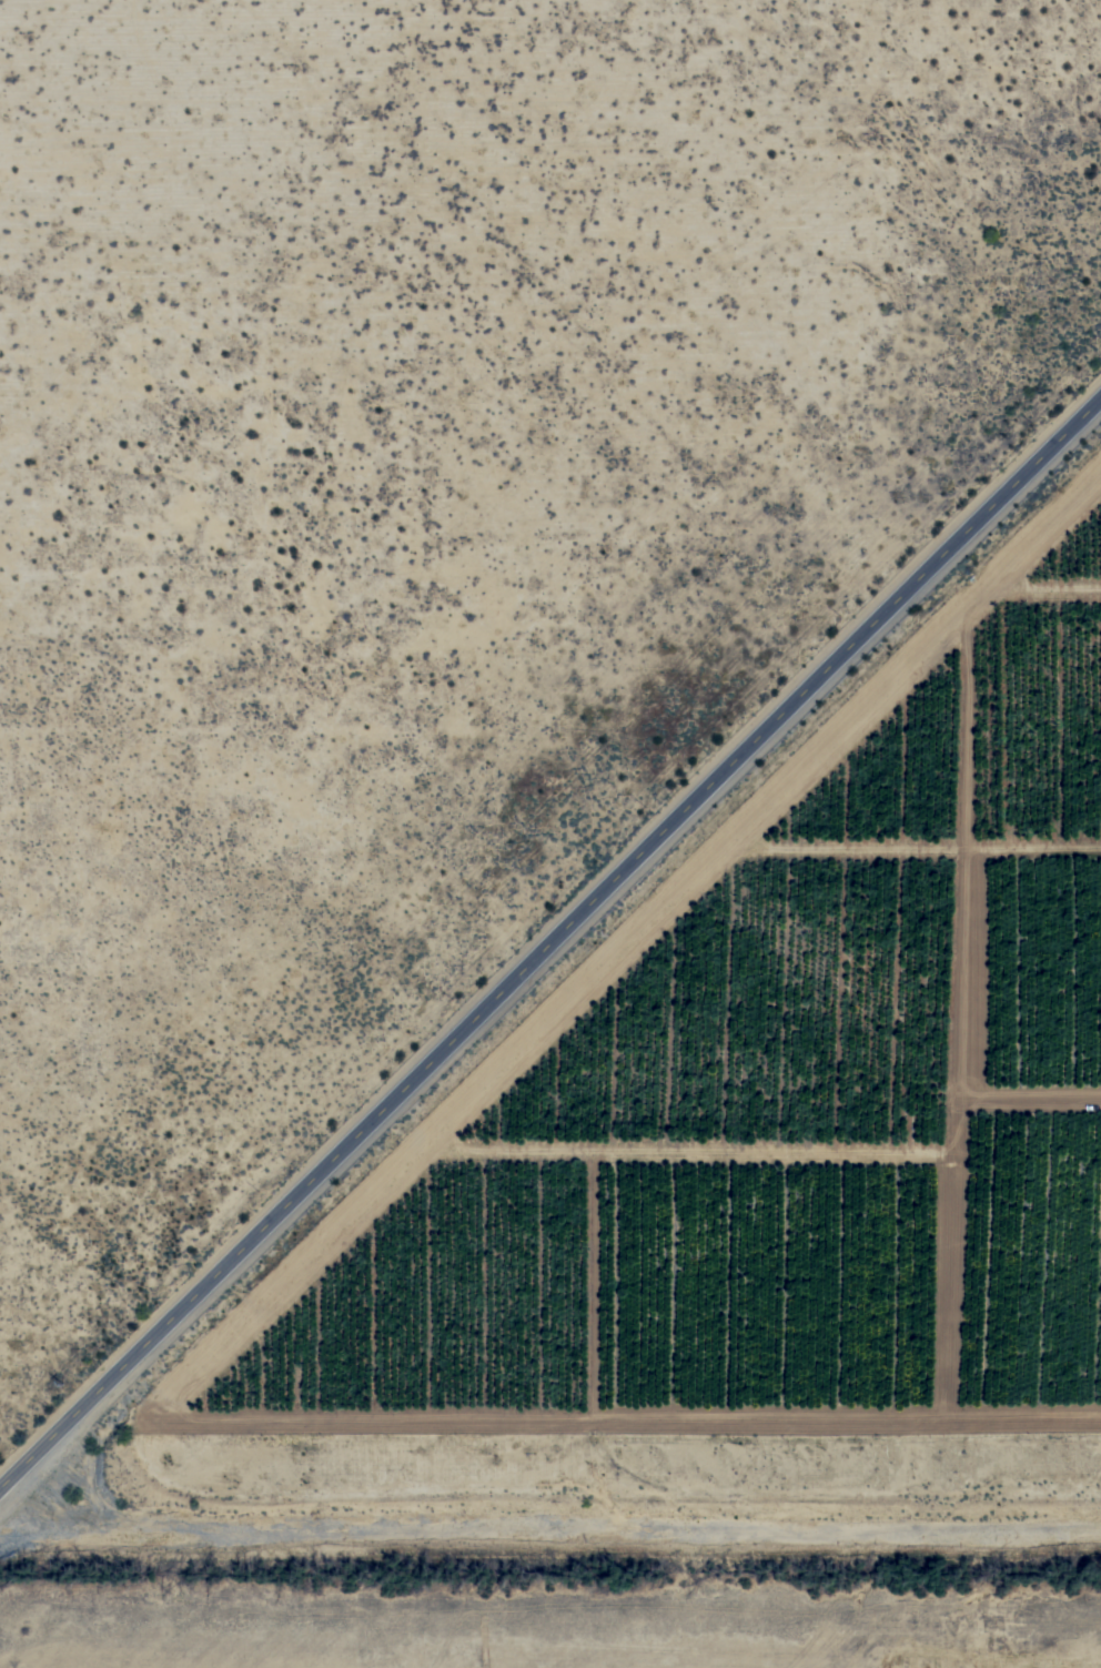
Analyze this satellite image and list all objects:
building: (792, 702)
road: (548, 931)
crop: (802, 1101)

